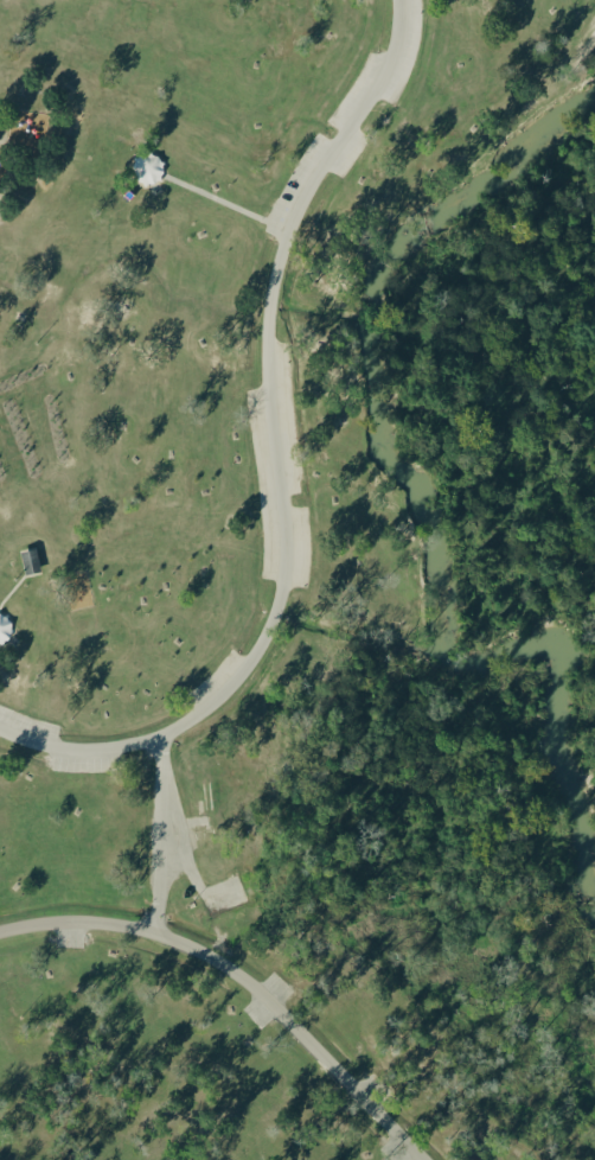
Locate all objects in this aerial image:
road: (5, 126)
road: (352, 127)
parking lot: (341, 133)
building: (148, 168)
road: (213, 197)
parking lot: (280, 473)
river: (421, 501)
building: (27, 560)
park: (297, 580)
road: (11, 585)
road: (282, 598)
building: (6, 629)
parking lot: (216, 678)
parking lot: (56, 744)
parking lot: (198, 829)
road: (158, 831)
road: (179, 843)
parking lot: (225, 891)
parking lot: (70, 937)
road: (244, 977)
parking lot: (268, 998)
parking lot: (376, 1085)
parking lot: (394, 1151)

